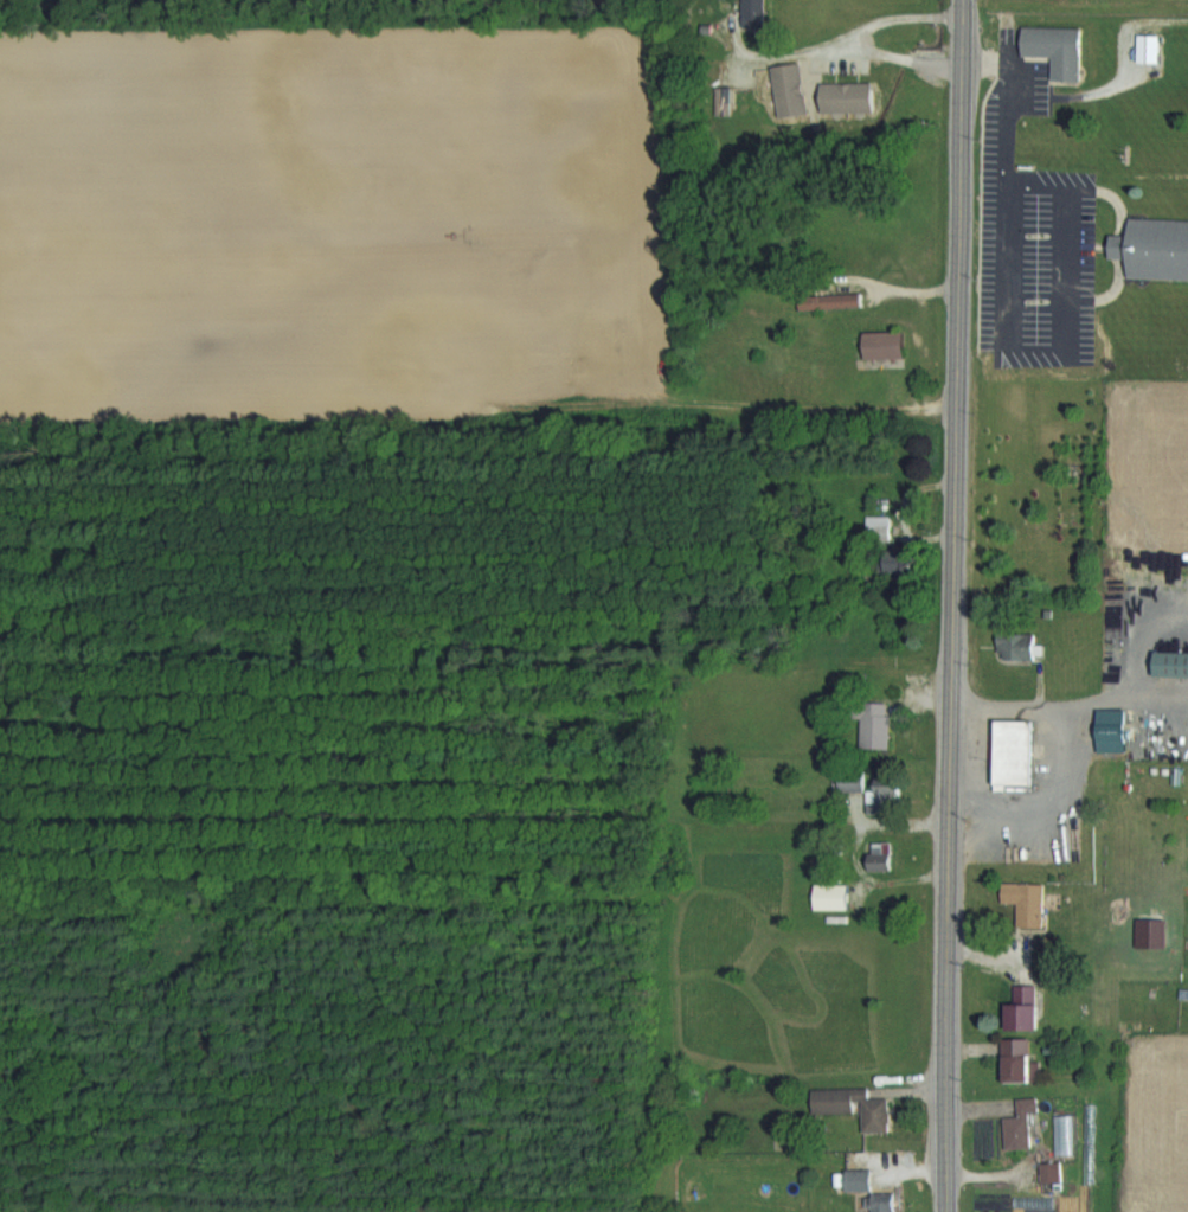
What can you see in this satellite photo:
building: (758, 13)
road: (843, 39)
building: (1054, 47)
road: (901, 57)
building: (856, 96)
road: (959, 242)
building: (1158, 248)
building: (830, 301)
building: (885, 347)
building: (881, 524)
building: (901, 565)
road: (1139, 636)
building: (1020, 645)
building: (1173, 666)
road: (1160, 695)
road: (1040, 706)
building: (878, 724)
building: (1112, 737)
building: (1013, 752)
building: (876, 793)
road: (1049, 803)
road: (945, 847)
building: (885, 855)
building: (1029, 902)
building: (1027, 1006)
building: (1020, 1060)
building: (856, 1107)
building: (1022, 1124)
building: (1054, 1171)
building: (861, 1179)
building: (887, 1201)

